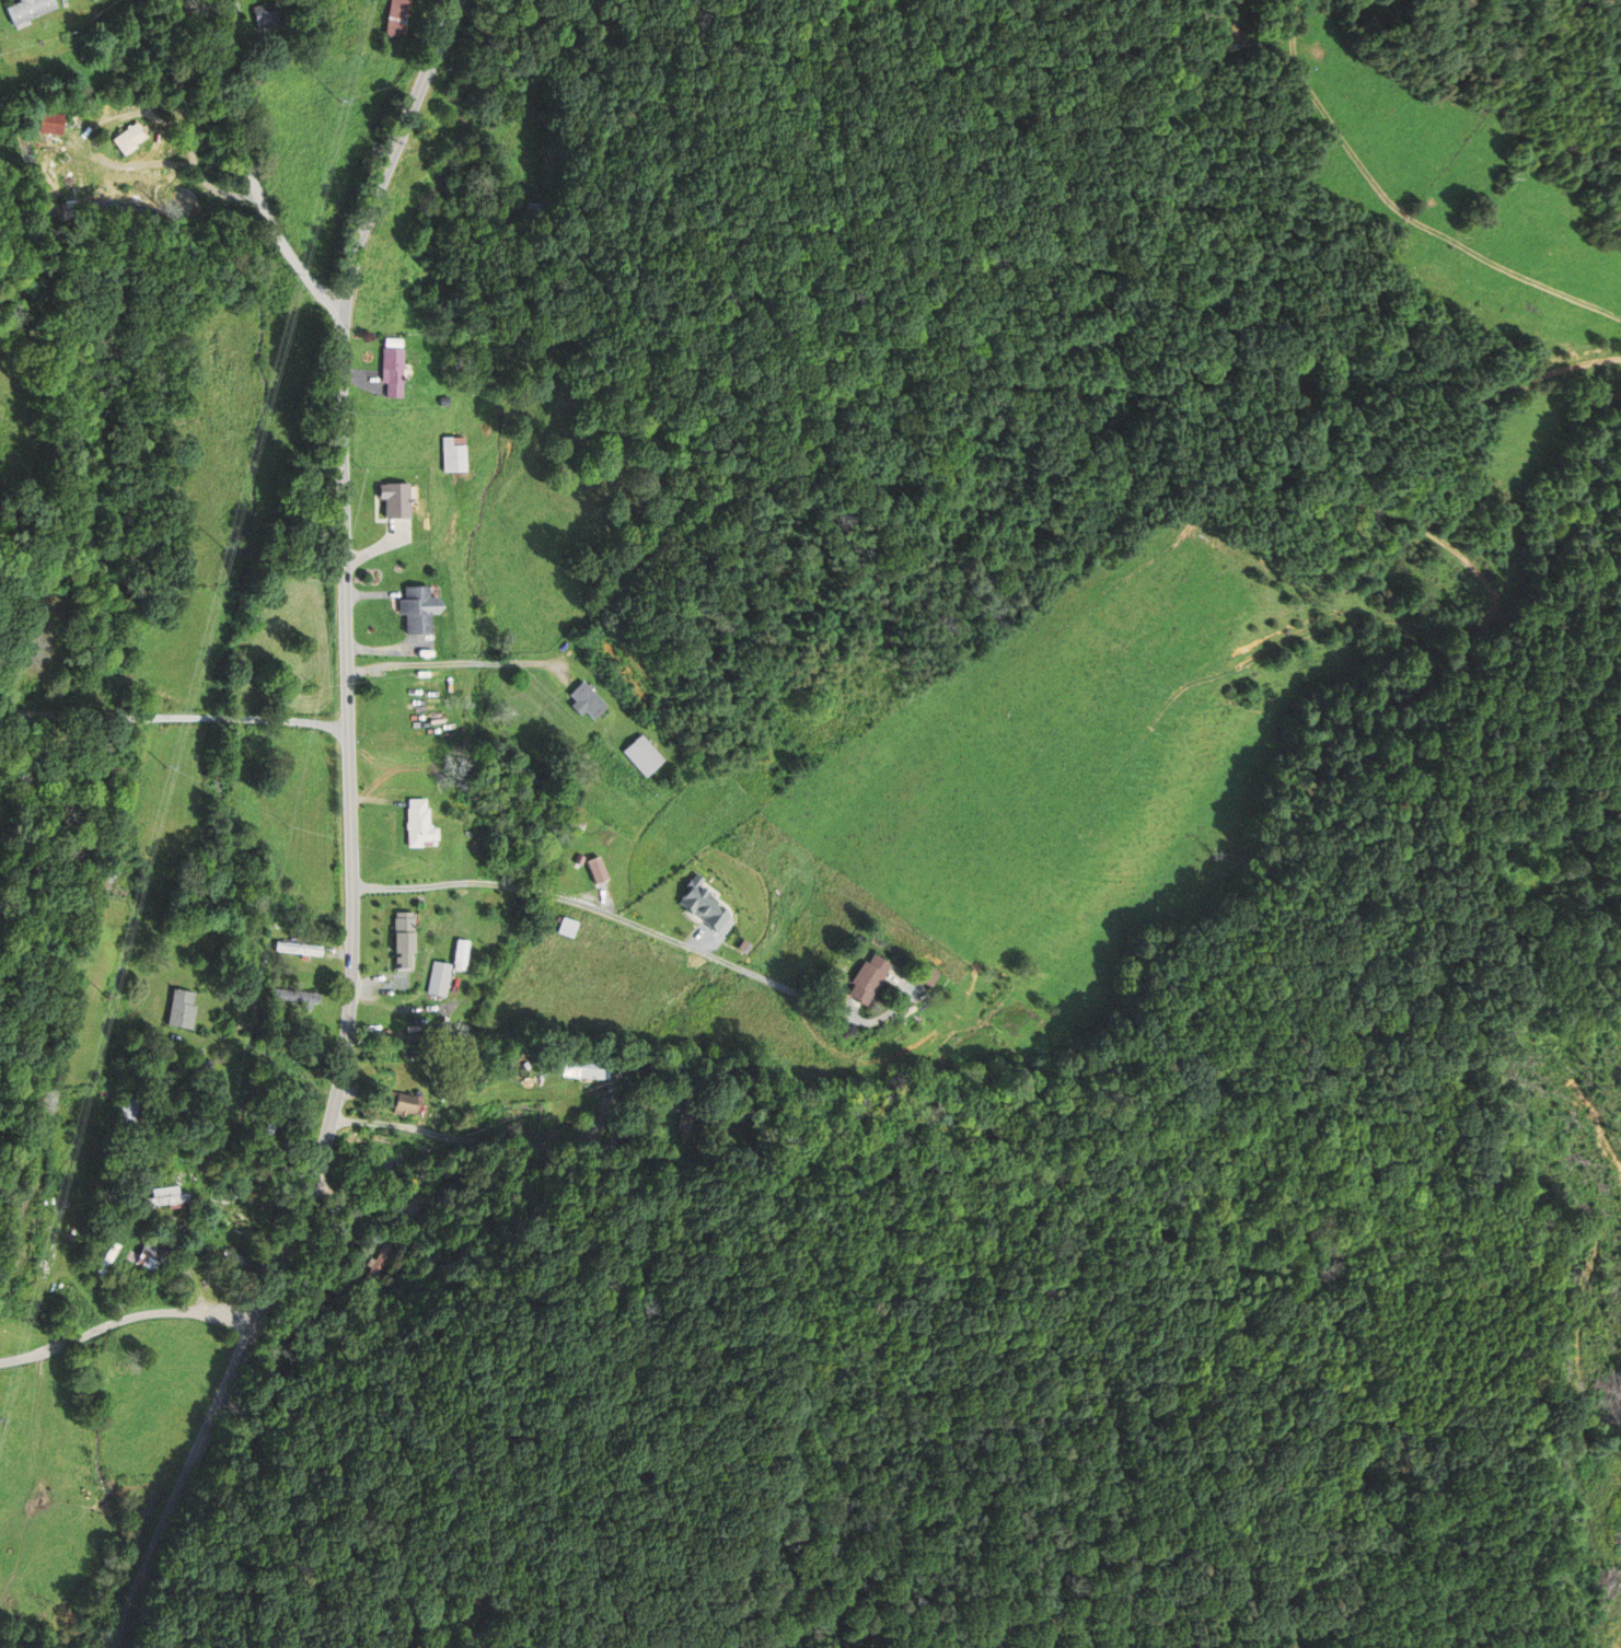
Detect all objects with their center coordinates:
building: (26, 9)
building: (273, 18)
building: (403, 18)
power tower: (339, 97)
building: (50, 124)
building: (131, 140)
road: (250, 169)
power tower: (291, 272)
building: (395, 368)
building: (455, 456)
building: (397, 499)
power tower: (222, 546)
building: (420, 608)
road: (454, 662)
building: (586, 700)
road: (174, 715)
building: (640, 756)
power tower: (164, 764)
building: (422, 824)
road: (351, 835)
building: (704, 905)
road: (611, 915)
building: (568, 927)
building: (405, 939)
building: (298, 948)
building: (461, 952)
building: (928, 974)
building: (438, 978)
building: (869, 978)
power tower: (104, 993)
building: (294, 996)
building: (183, 1008)
road: (311, 1043)
building: (588, 1068)
building: (405, 1103)
building: (694, 1107)
road: (453, 1133)
building: (171, 1196)
building: (419, 1205)
building: (108, 1260)
building: (143, 1260)
road: (124, 1316)

